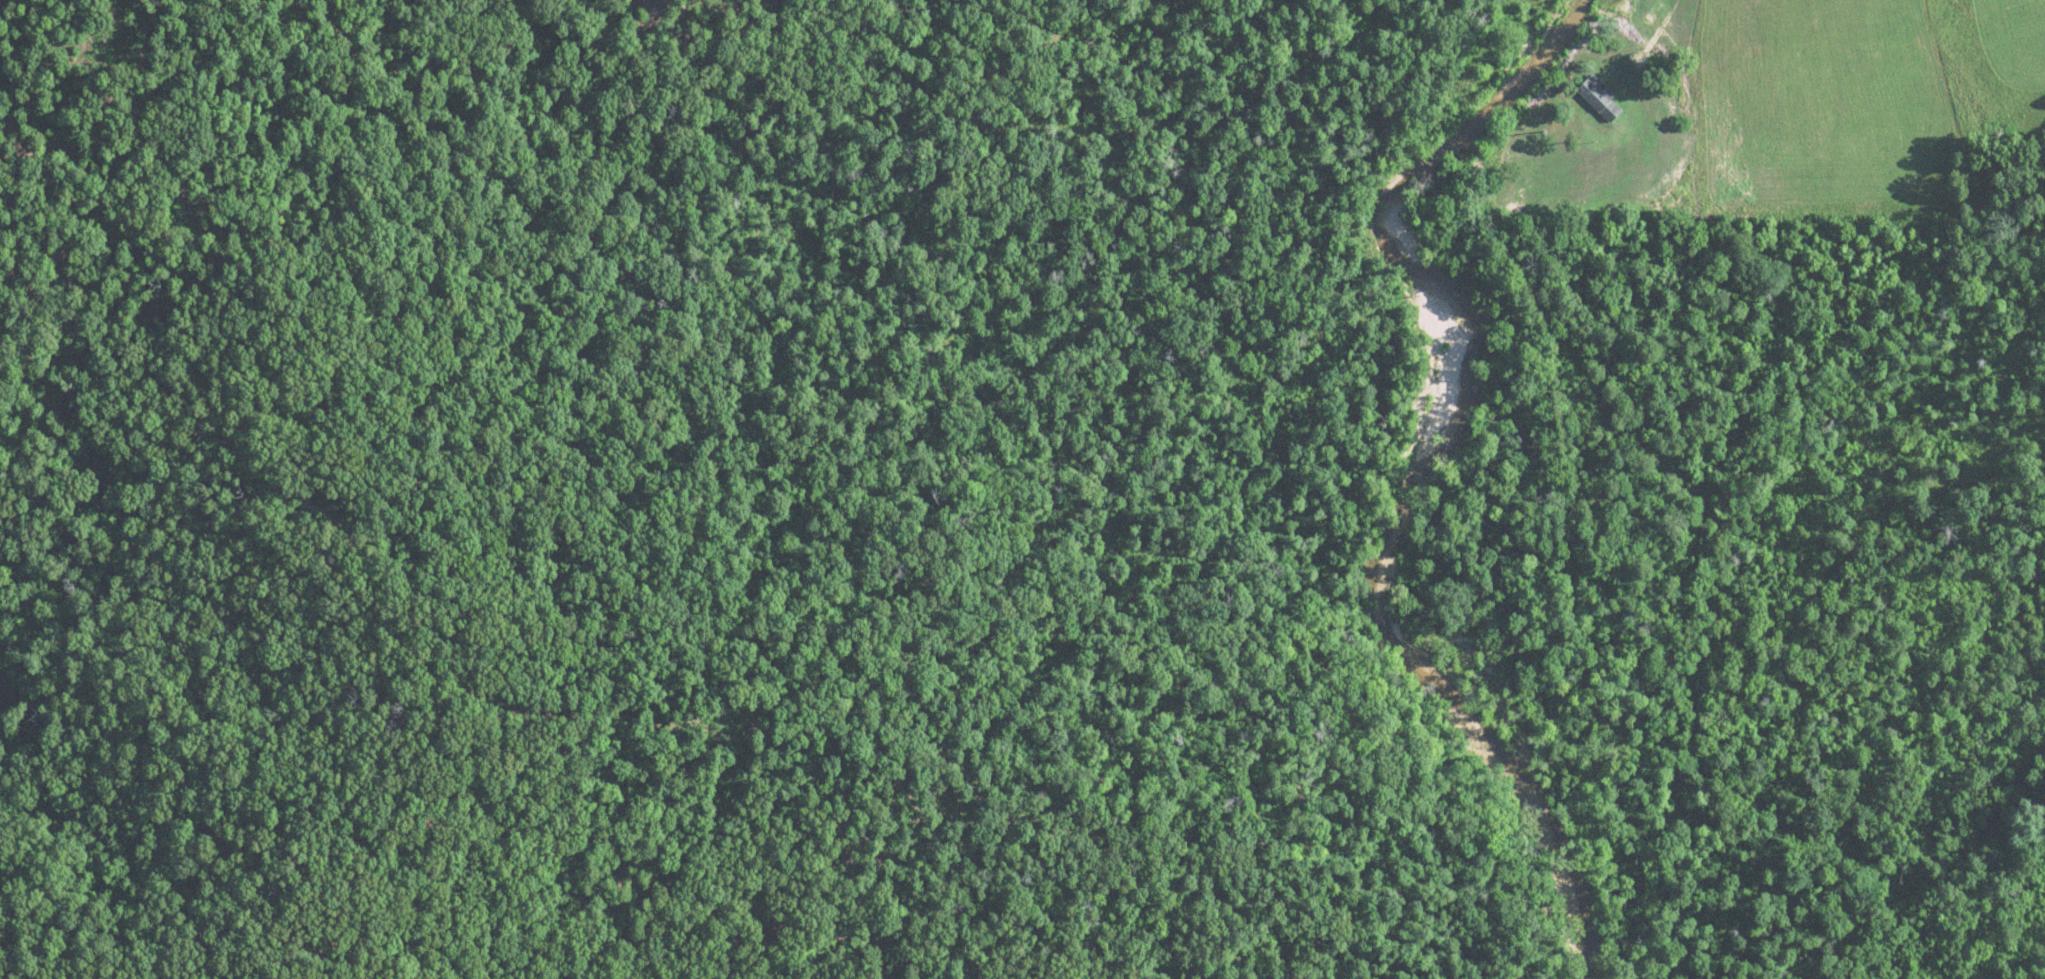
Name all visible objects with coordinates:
building: (1602, 102)

